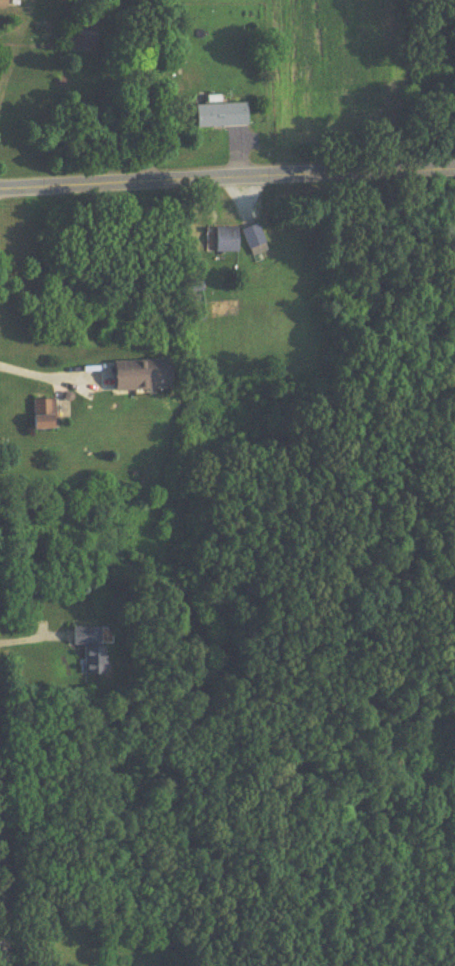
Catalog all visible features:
building: (3, 4)
building: (77, 39)
building: (222, 117)
road: (227, 176)
building: (225, 242)
building: (255, 242)
building: (143, 377)
building: (45, 416)
building: (91, 650)
road: (6, 825)

